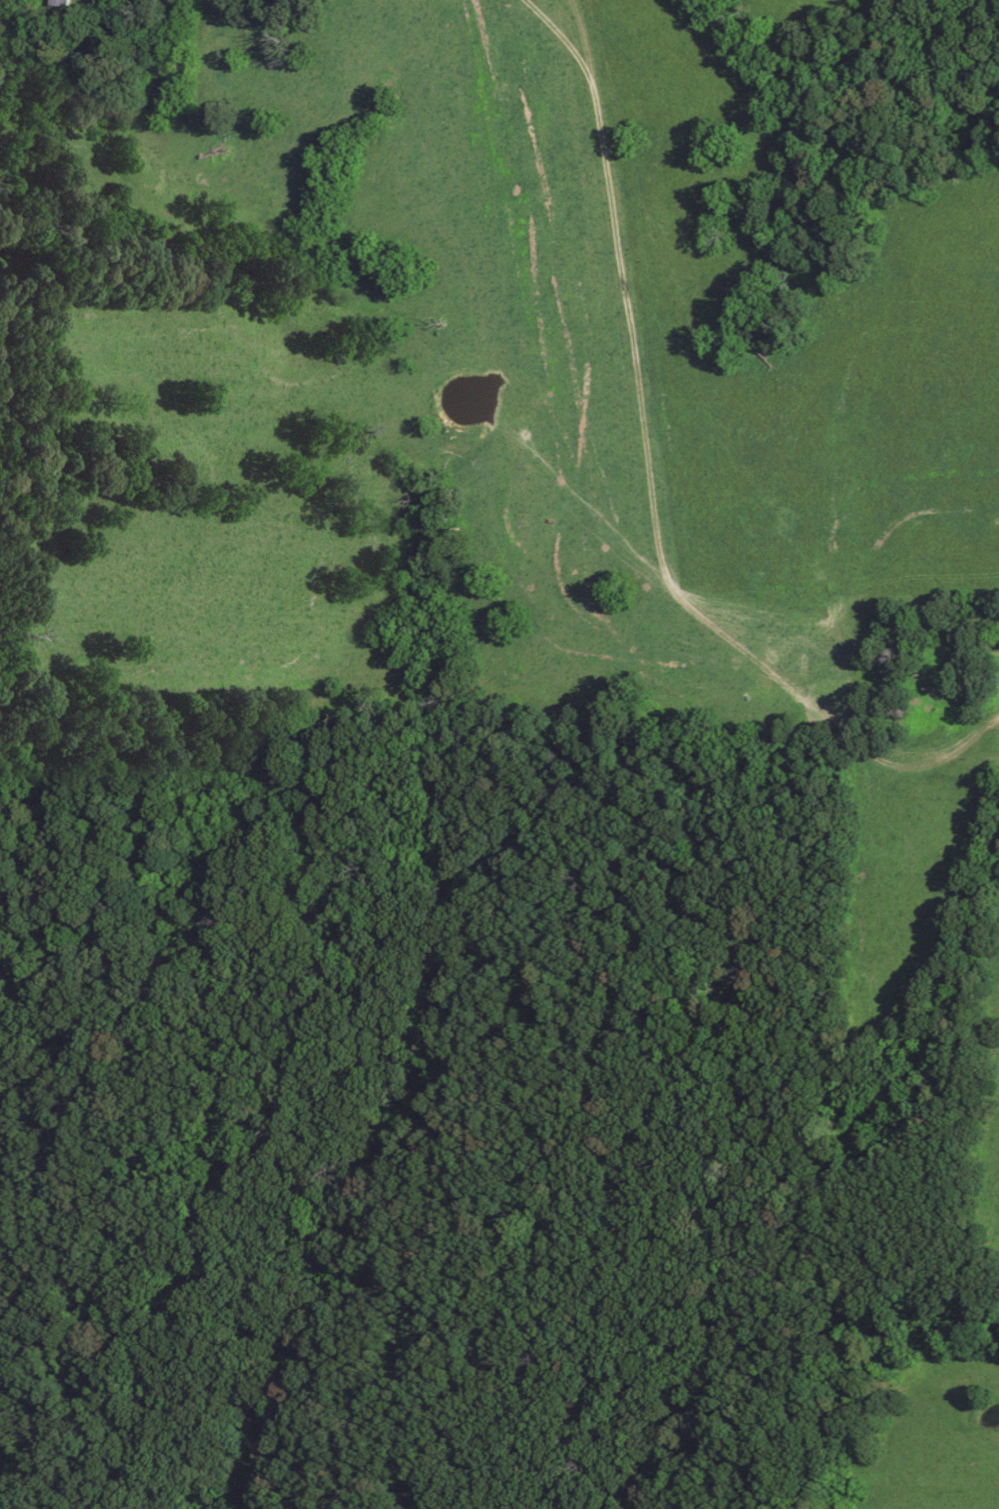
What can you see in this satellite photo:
building: (58, 4)

